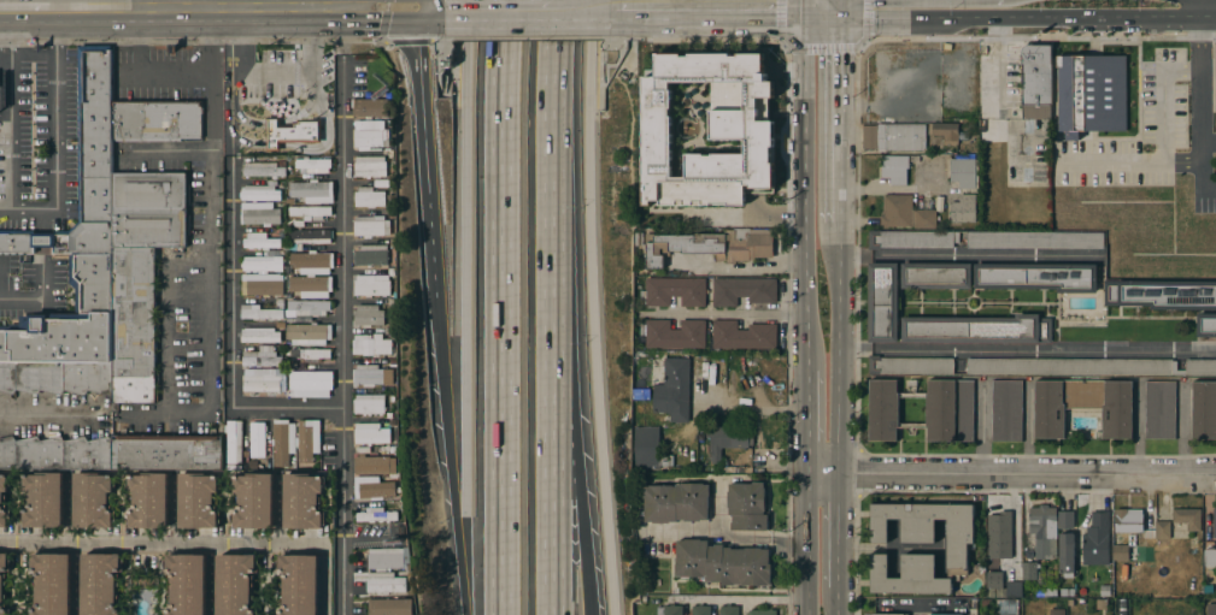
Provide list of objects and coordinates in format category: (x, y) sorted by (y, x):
road: (221, 2)
road: (328, 2)
road: (349, 2)
road: (419, 2)
road: (671, 2)
road: (804, 2)
road: (809, 2)
road: (30, 4)
road: (105, 4)
traffic signals: (419, 5)
road: (431, 5)
road: (498, 5)
road: (582, 5)
road: (709, 5)
traffic signals: (804, 5)
road: (233, 6)
road: (23, 7)
road: (841, 8)
road: (1196, 10)
road: (1215, 10)
traffic signals: (841, 18)
road: (958, 18)
road: (1156, 18)
road: (1206, 19)
road: (384, 20)
road: (782, 23)
road: (313, 26)
road: (528, 40)
road: (758, 40)
road: (417, 41)
road: (621, 47)
road: (442, 57)
road: (228, 58)
road: (995, 63)
road: (456, 64)
road: (446, 65)
road: (315, 70)
parking lot: (286, 75)
building: (876, 76)
road: (139, 78)
road: (453, 79)
building: (1036, 82)
road: (604, 89)
building: (1092, 93)
road: (1163, 99)
building: (370, 107)
road: (10, 108)
road: (1198, 111)
building: (157, 119)
road: (840, 120)
road: (276, 123)
road: (229, 128)
building: (945, 131)
building: (290, 132)
building: (368, 135)
road: (54, 136)
building: (871, 137)
building: (904, 137)
road: (1208, 141)
road: (424, 144)
road: (302, 149)
road: (165, 152)
building: (914, 159)
road: (1129, 161)
building: (313, 165)
building: (370, 166)
building: (84, 167)
building: (263, 168)
building: (894, 170)
building: (963, 173)
building: (1070, 173)
building: (647, 179)
road: (805, 187)
building: (312, 191)
building: (259, 193)
building: (369, 197)
building: (940, 203)
building: (682, 206)
building: (753, 208)
building: (963, 209)
building: (897, 211)
building: (259, 213)
building: (309, 213)
building: (710, 218)
building: (924, 219)
building: (699, 221)
building: (371, 226)
building: (307, 237)
building: (912, 238)
building: (1035, 240)
building: (260, 241)
building: (710, 247)
road: (208, 248)
building: (371, 255)
road: (971, 256)
building: (312, 262)
building: (262, 264)
road: (469, 271)
building: (140, 273)
building: (936, 276)
building: (1036, 277)
road: (0, 280)
building: (371, 285)
building: (310, 286)
road: (233, 288)
building: (262, 288)
building: (742, 290)
building: (674, 291)
building: (1161, 294)
road: (37, 298)
building: (882, 302)
road: (503, 307)
road: (558, 307)
road: (592, 307)
building: (307, 308)
building: (259, 312)
building: (369, 314)
road: (723, 315)
building: (69, 323)
building: (1206, 325)
building: (976, 329)
building: (674, 333)
building: (260, 335)
building: (309, 335)
building: (742, 335)
road: (342, 339)
building: (371, 344)
road: (839, 349)
road: (1027, 350)
building: (311, 354)
building: (263, 356)
building: (910, 365)
building: (1089, 367)
building: (369, 374)
building: (57, 379)
building: (264, 379)
building: (312, 380)
building: (674, 390)
building: (641, 394)
road: (575, 398)
building: (370, 403)
building: (1083, 404)
road: (287, 408)
building: (1159, 409)
building: (950, 410)
building: (1006, 410)
building: (1204, 410)
road: (759, 412)
road: (49, 413)
road: (445, 414)
road: (807, 422)
building: (371, 433)
building: (255, 439)
building: (307, 439)
building: (728, 439)
building: (234, 440)
building: (283, 442)
building: (647, 447)
building: (168, 453)
building: (55, 454)
building: (372, 466)
road: (1011, 474)
building: (374, 487)
building: (43, 499)
building: (93, 499)
building: (149, 499)
building: (198, 499)
building: (1, 501)
building: (254, 501)
building: (302, 501)
building: (676, 502)
building: (747, 507)
road: (175, 510)
road: (278, 510)
building: (376, 514)
building: (1187, 518)
building: (1128, 520)
building: (997, 522)
building: (1214, 522)
building: (1047, 527)
building: (1162, 530)
road: (838, 532)
road: (724, 538)
building: (1097, 539)
road: (157, 543)
road: (75, 545)
road: (807, 545)
building: (959, 546)
building: (1067, 554)
building: (1120, 554)
building: (991, 556)
building: (1209, 556)
building: (386, 558)
building: (723, 563)
building: (981, 567)
building: (1029, 570)
road: (470, 579)
building: (2, 580)
building: (386, 583)
building: (52, 584)
building: (99, 584)
building: (188, 584)
building: (235, 584)
building: (300, 584)
building: (992, 585)
building: (1012, 589)
building: (1105, 590)
building: (1050, 592)
building: (1067, 592)
road: (740, 602)
road: (838, 602)
building: (1081, 602)
building: (1102, 604)
road: (922, 605)
building: (390, 607)
building: (1006, 607)
building: (1123, 608)
building: (700, 609)
building: (1211, 609)
building: (670, 610)
building: (729, 610)
road: (918, 610)
building: (762, 611)
building: (1057, 611)
building: (883, 614)
building: (939, 614)

